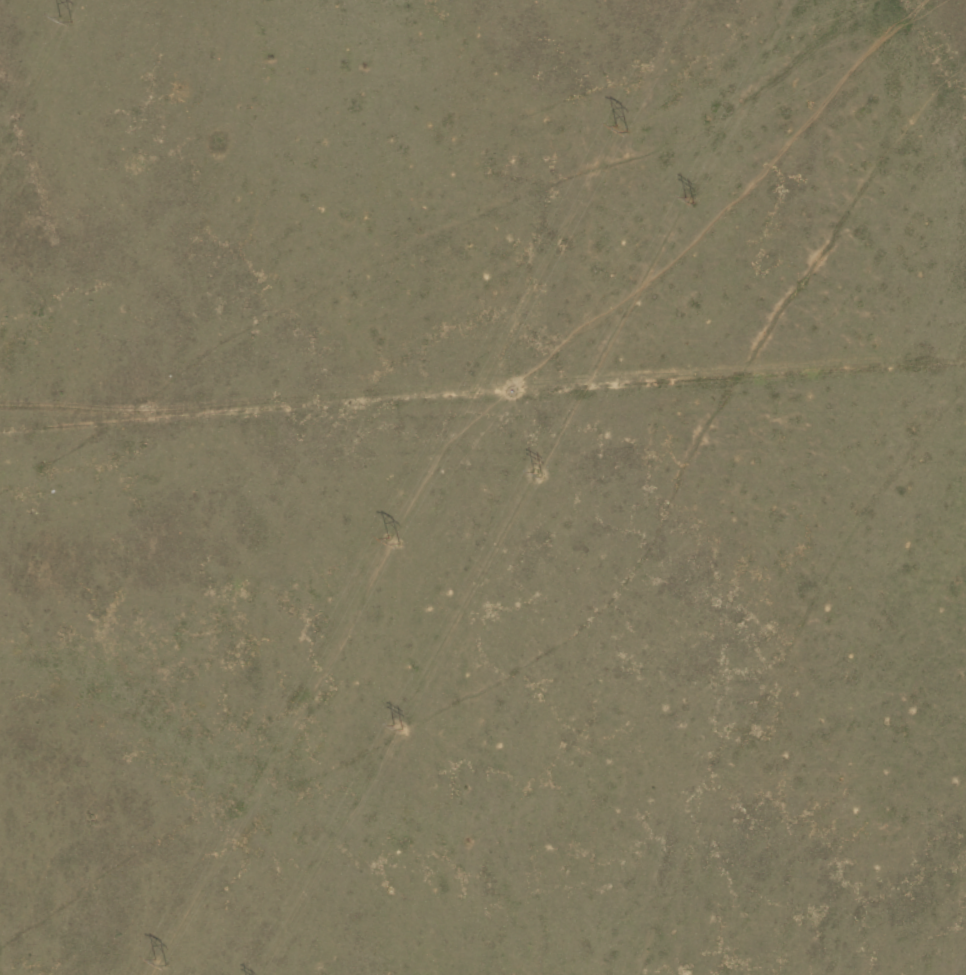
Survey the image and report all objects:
power tower: (64, 20)
power tower: (623, 129)
power tower: (690, 203)
power tower: (538, 477)
power tower: (396, 541)
power tower: (397, 727)
power tower: (161, 962)

